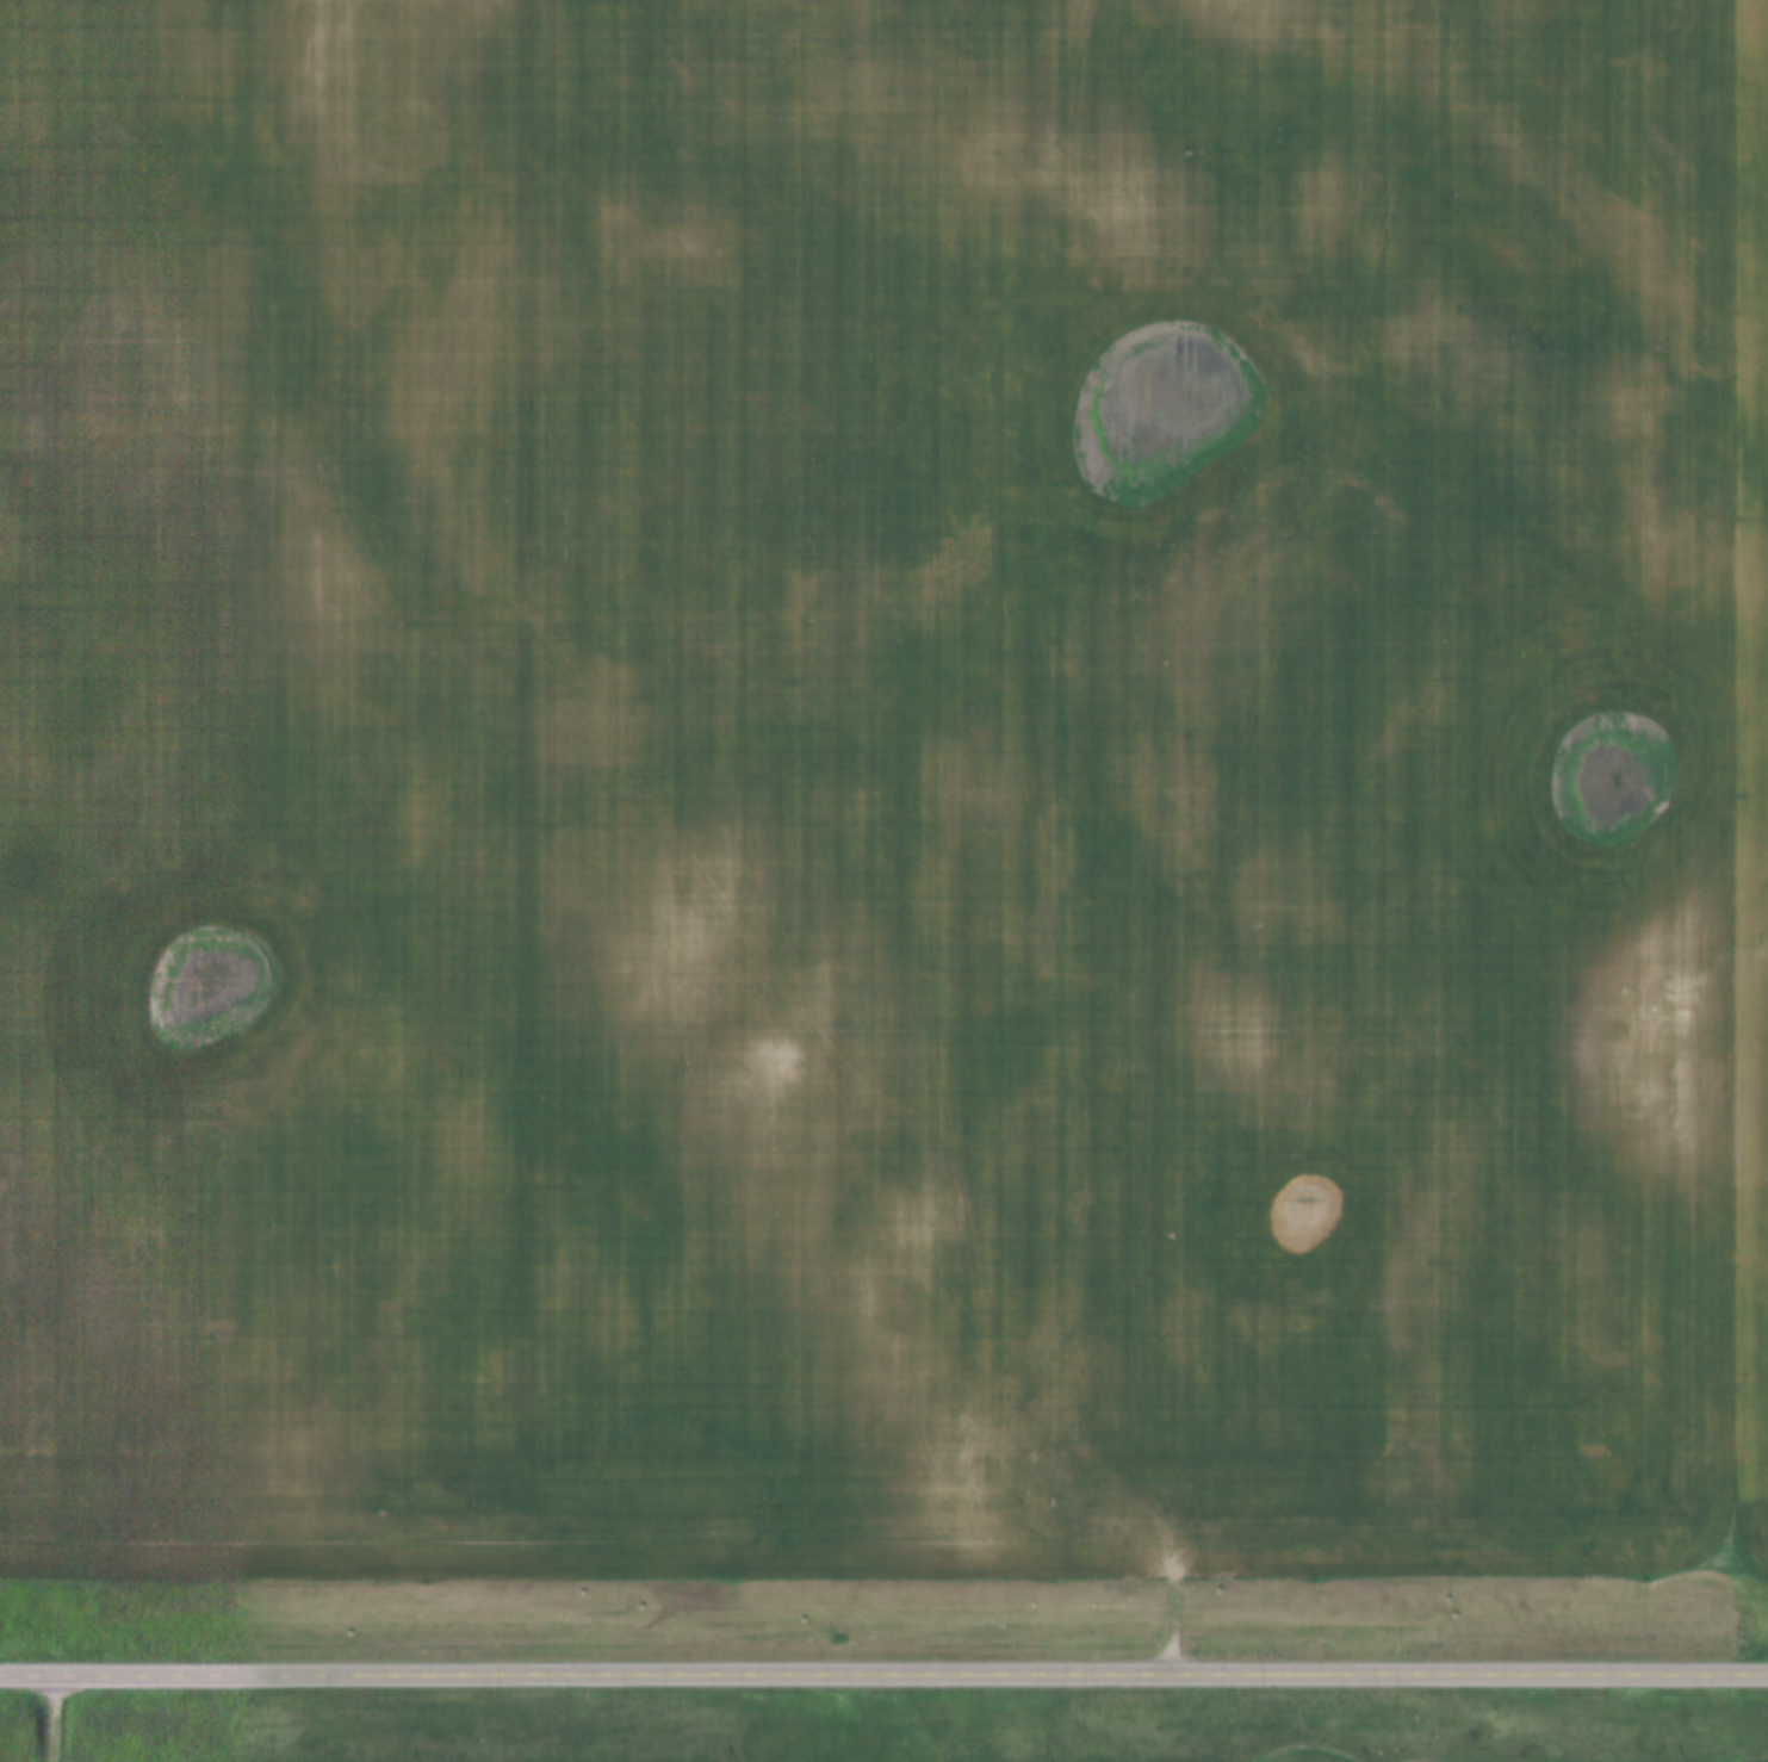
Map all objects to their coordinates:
road: (883, 1671)
road: (55, 1717)

